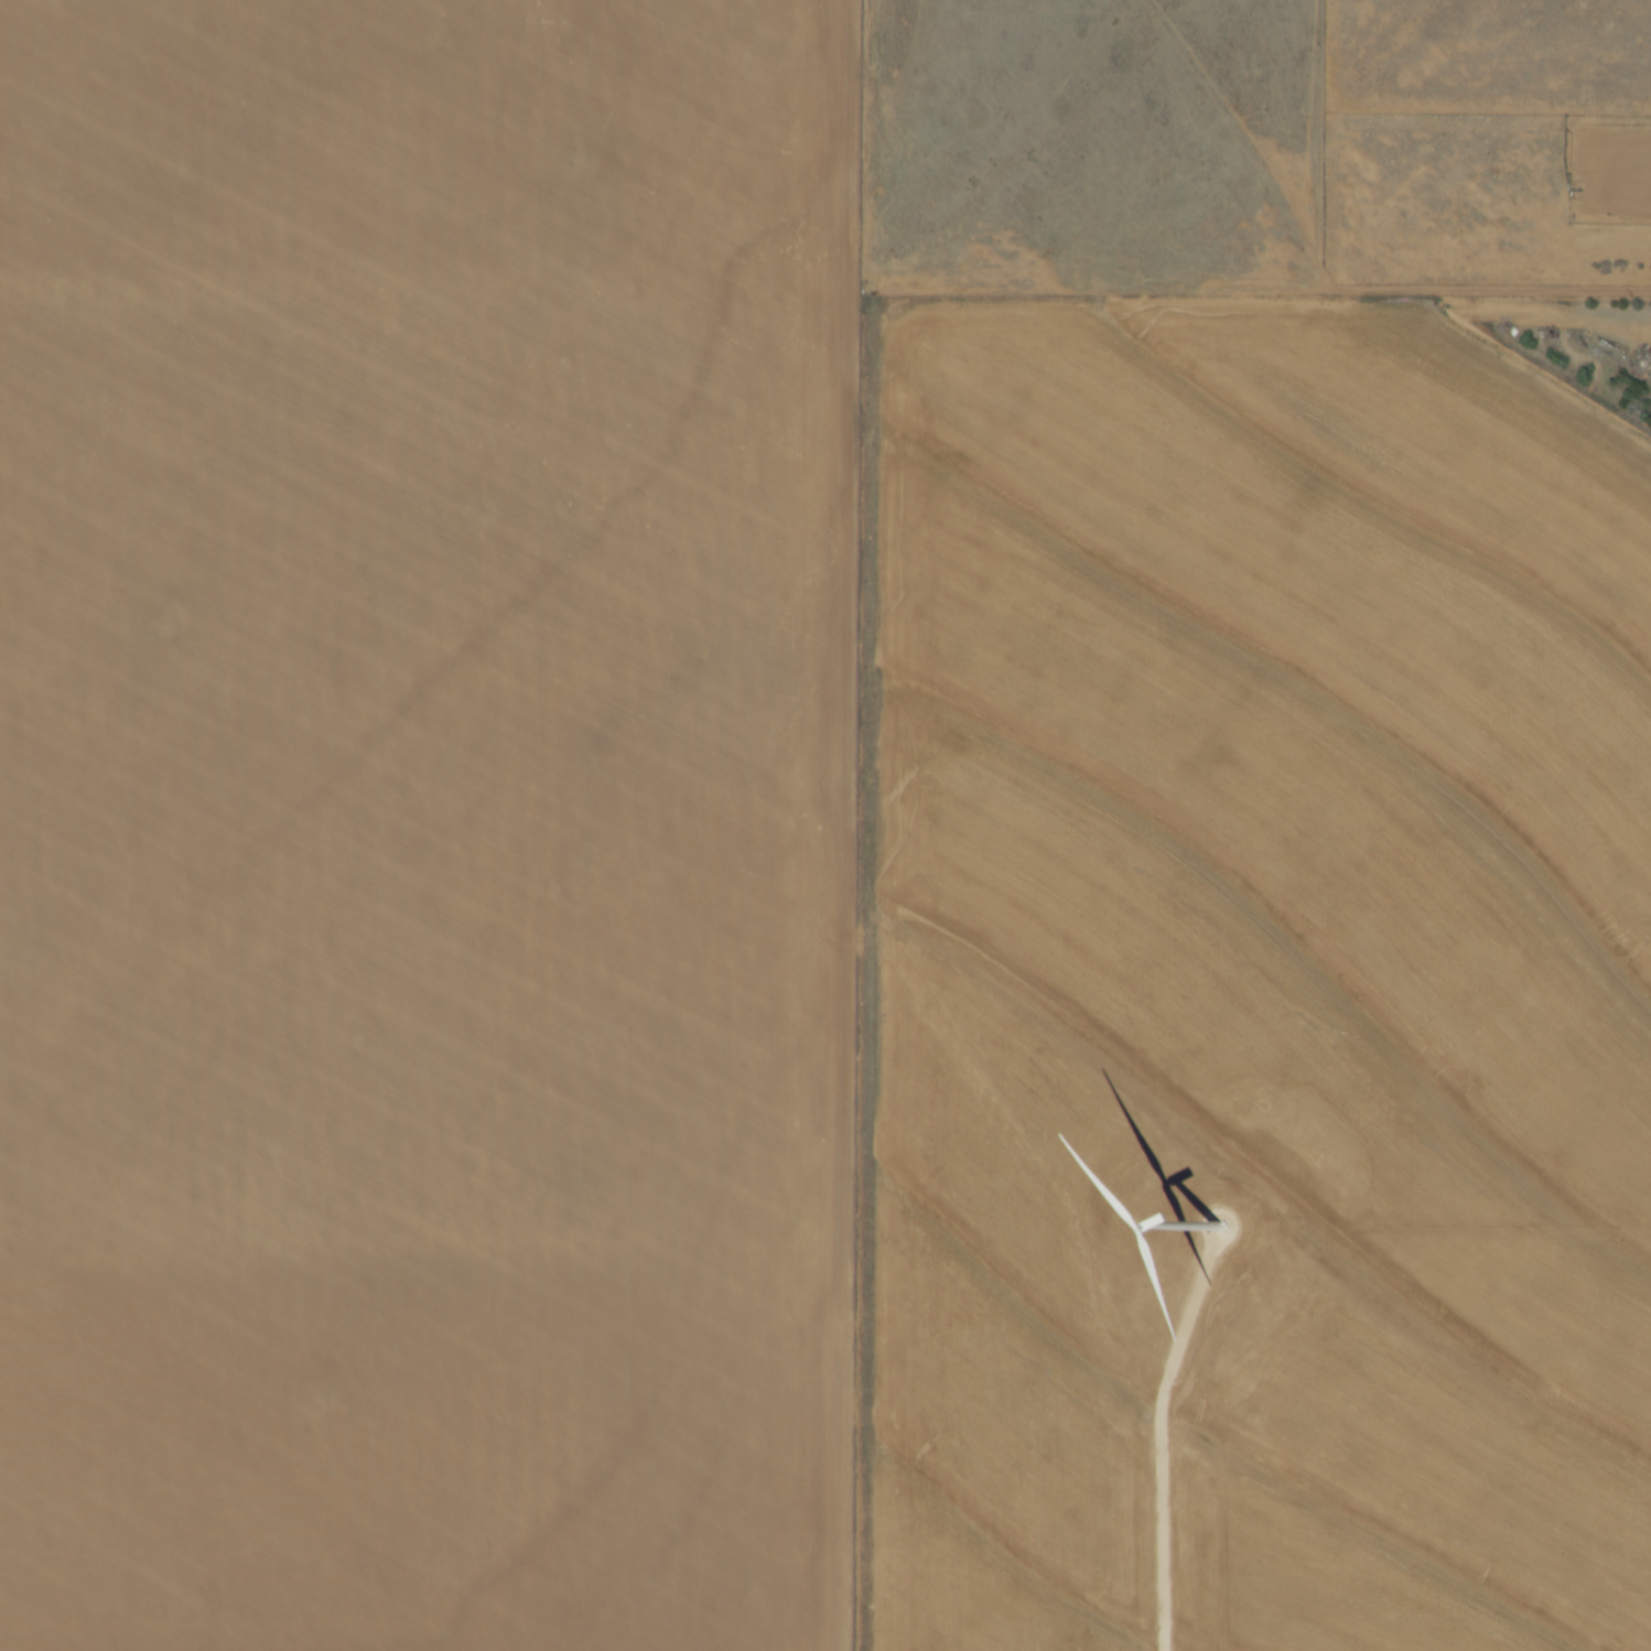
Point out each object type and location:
wind turbine: (1209, 1229)

